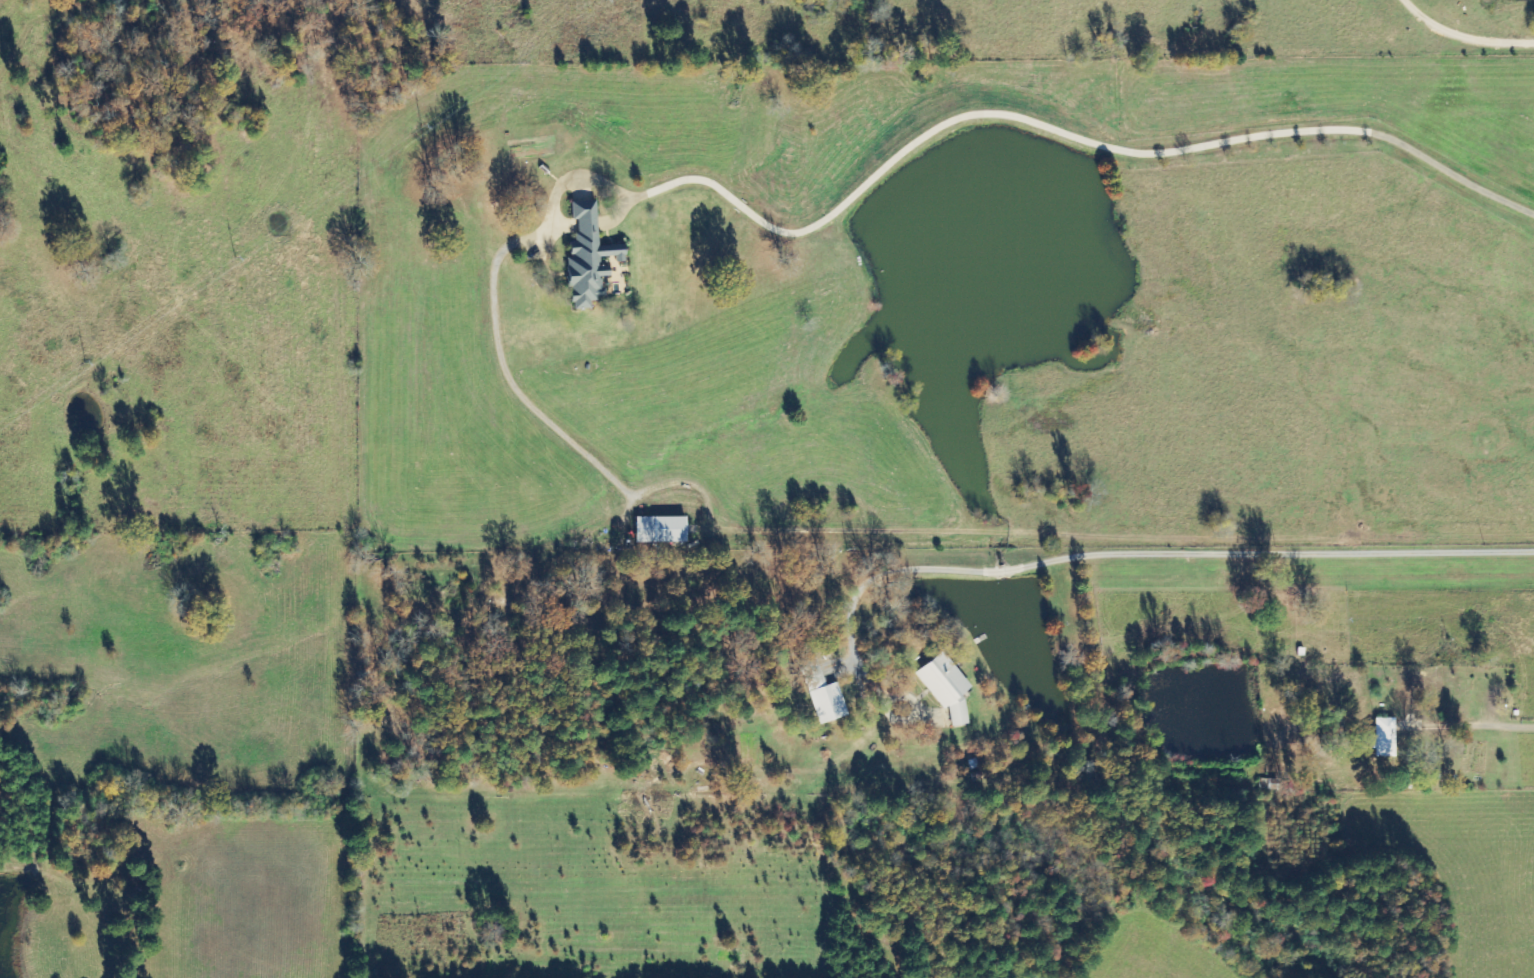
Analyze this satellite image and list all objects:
building: (585, 256)
building: (657, 529)
building: (943, 686)
building: (821, 692)
building: (1382, 737)

